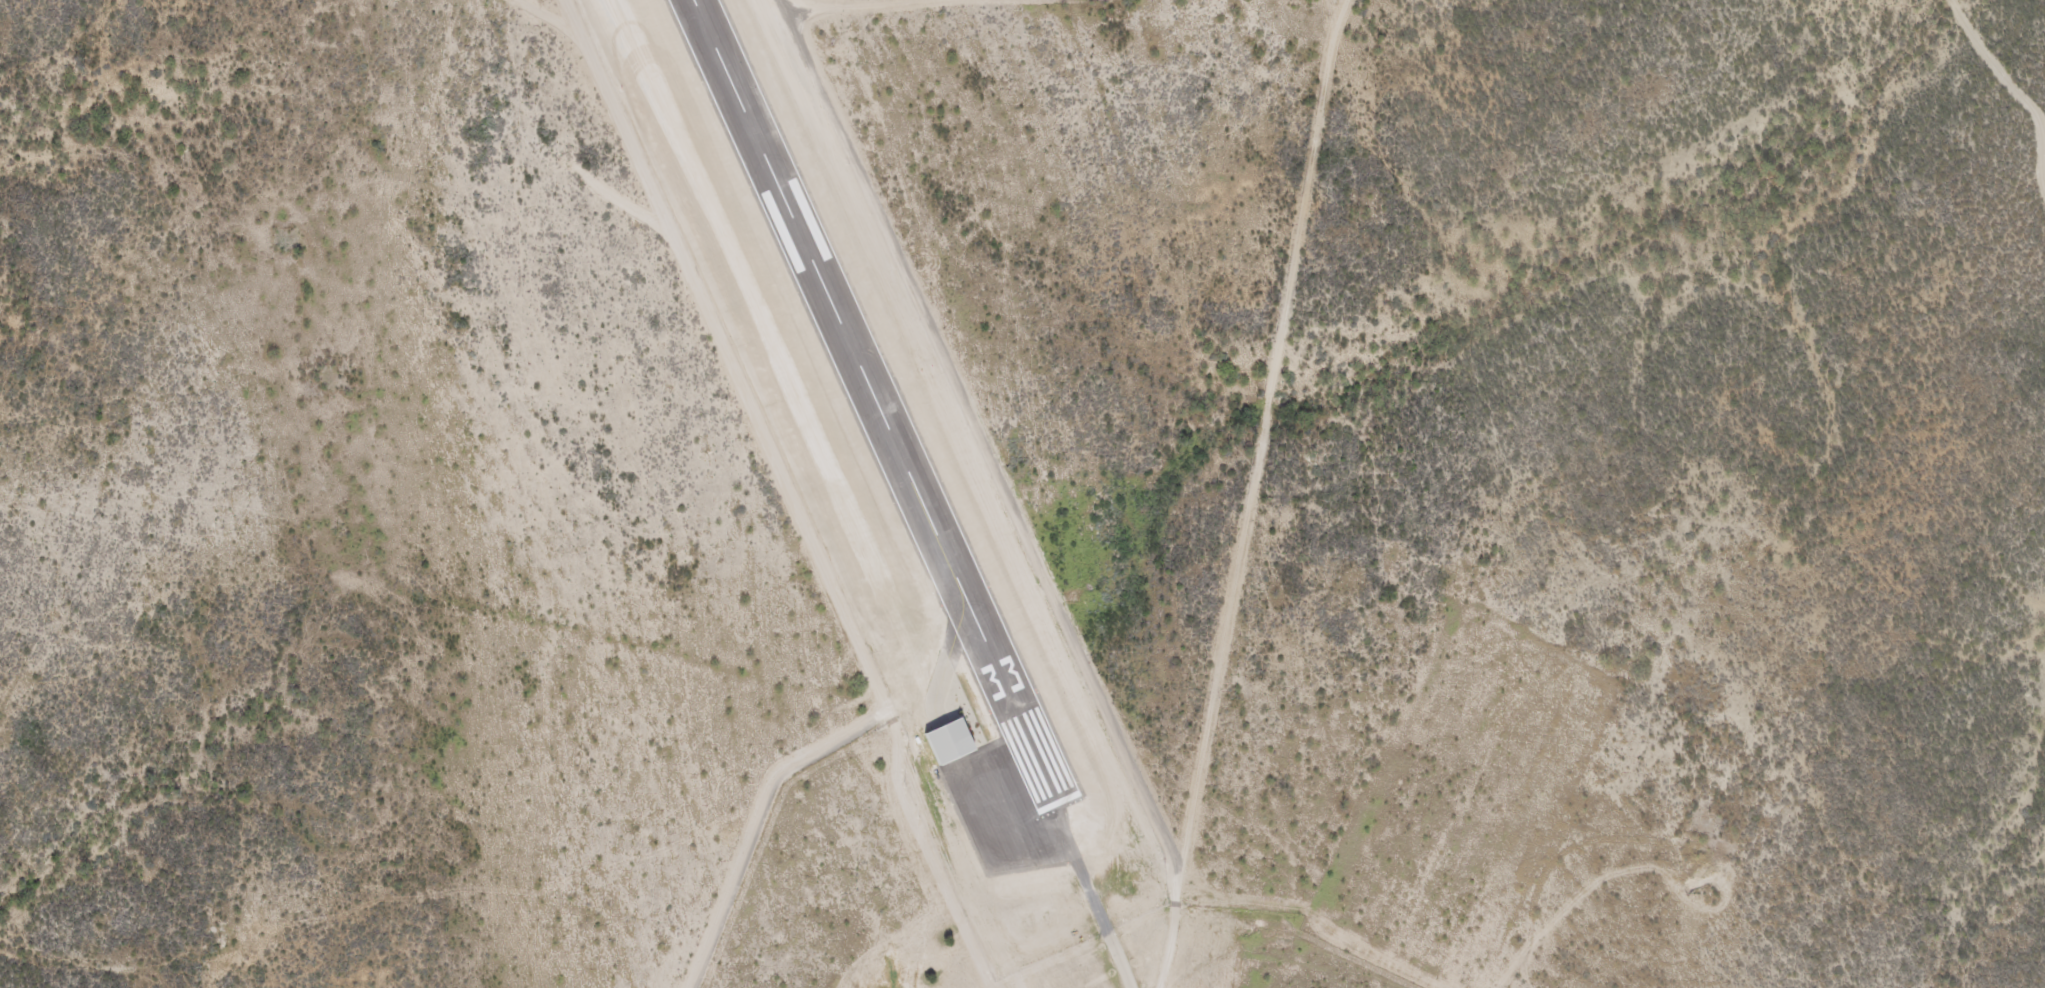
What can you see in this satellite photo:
road: (2014, 88)
airport runway: (870, 403)
road: (976, 443)
road: (1253, 493)
airport hangar: (943, 738)
building: (943, 738)
road: (974, 917)

